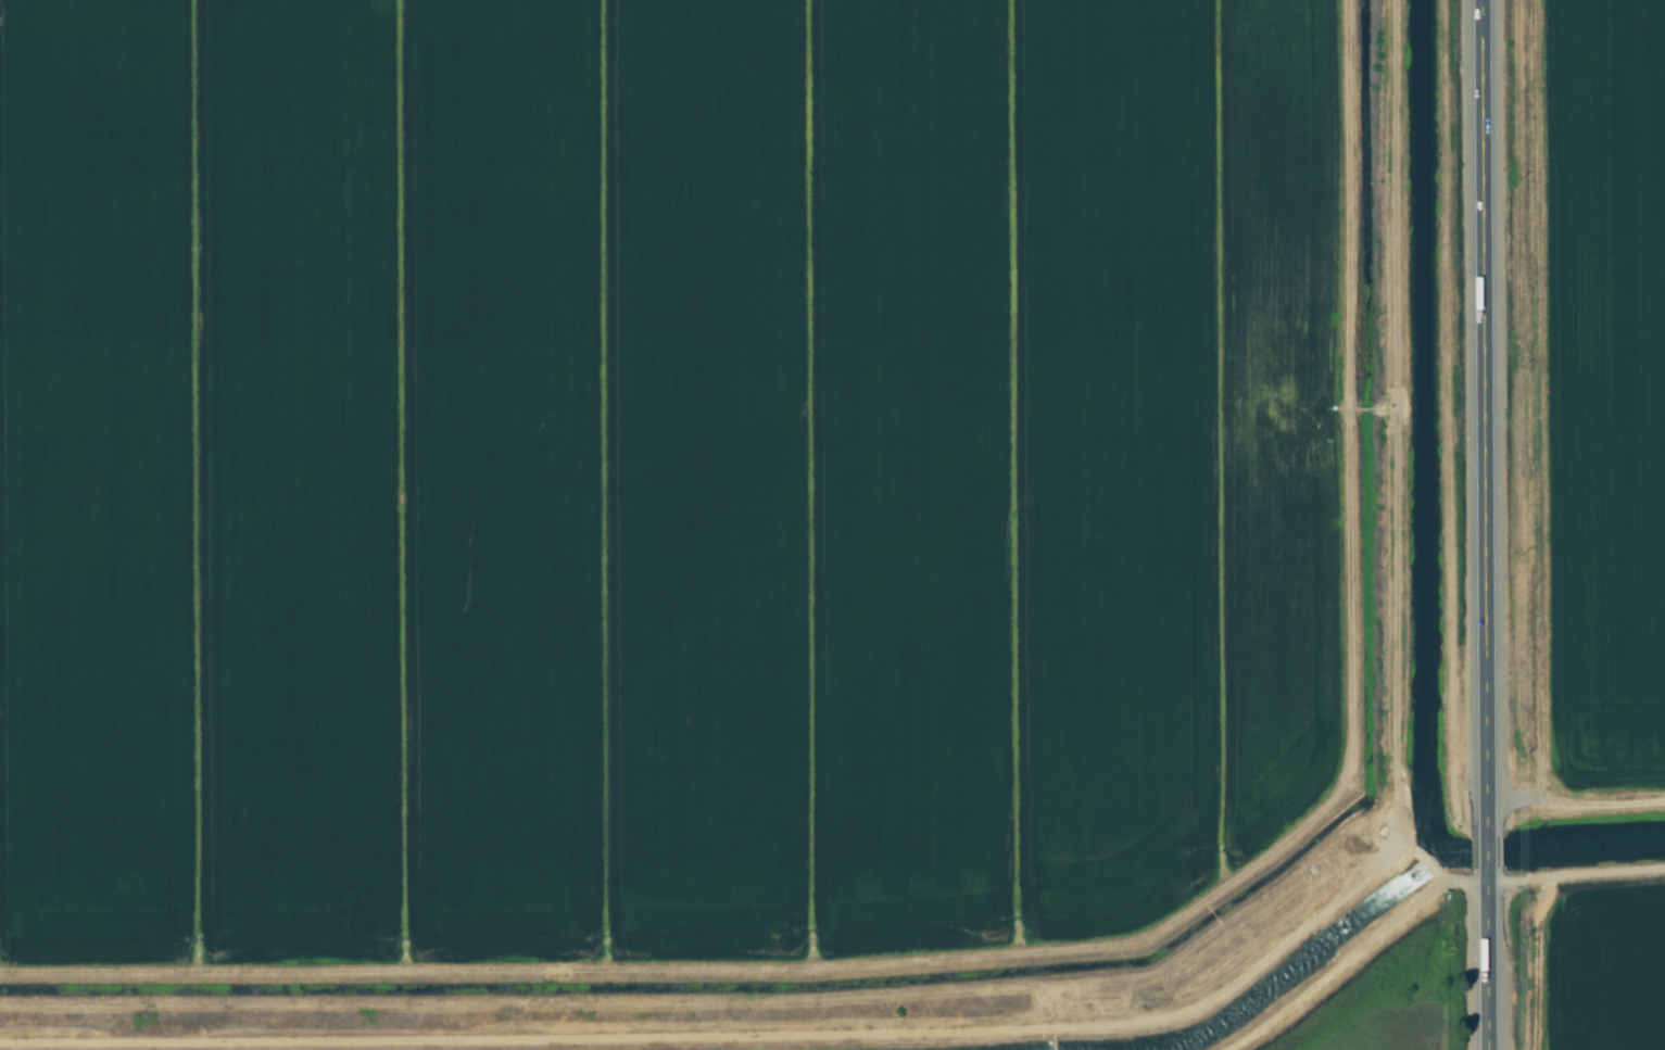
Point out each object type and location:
road: (1481, 393)
road: (1485, 831)
road: (1487, 962)

